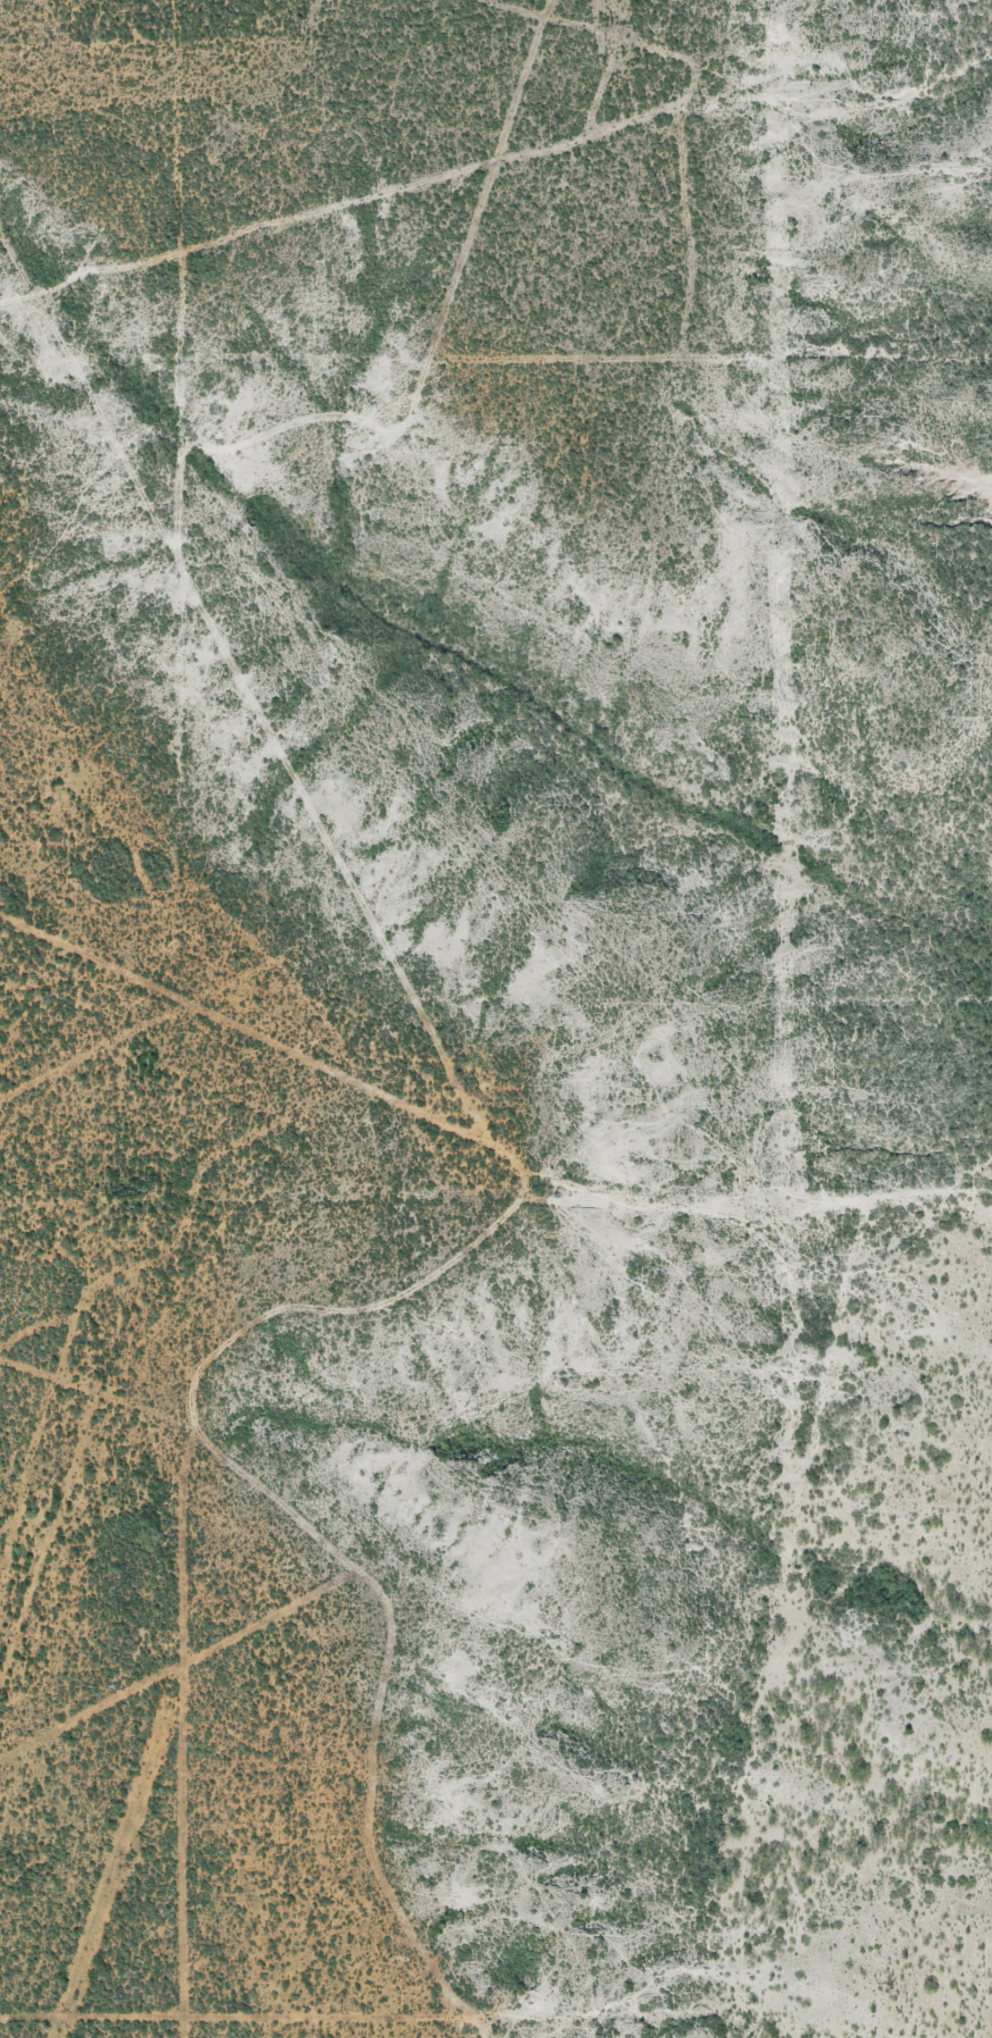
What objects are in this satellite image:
road: (231, 1307)

